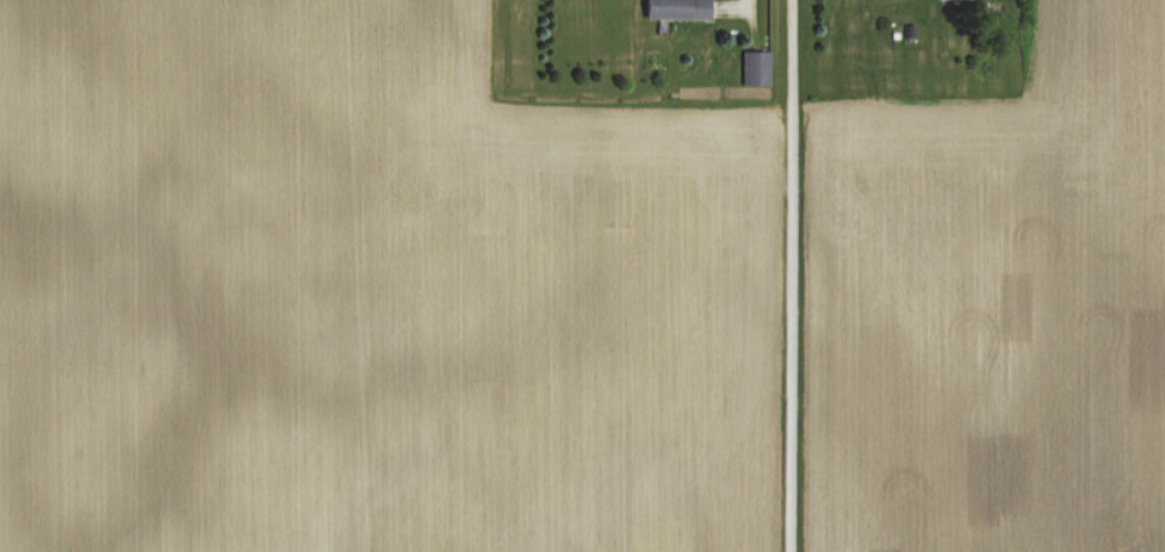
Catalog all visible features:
road: (736, 0)
building: (681, 8)
building: (760, 68)
road: (794, 275)

